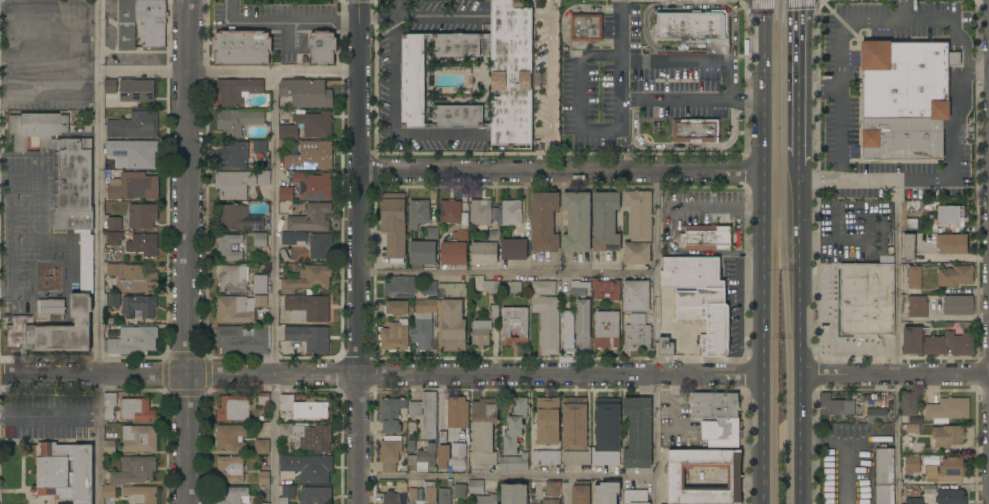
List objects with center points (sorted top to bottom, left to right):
road: (743, 1)
road: (778, 2)
road: (655, 8)
road: (903, 11)
road: (438, 16)
road: (288, 20)
building: (152, 21)
building: (126, 25)
building: (586, 27)
building: (689, 27)
road: (564, 28)
road: (623, 29)
road: (840, 32)
building: (457, 44)
building: (241, 48)
building: (321, 48)
road: (45, 63)
road: (677, 64)
road: (95, 65)
road: (549, 67)
road: (971, 70)
road: (230, 73)
building: (511, 74)
building: (906, 79)
building: (537, 80)
building: (412, 81)
road: (800, 81)
road: (732, 82)
building: (110, 86)
parking lot: (841, 89)
building: (136, 91)
building: (237, 91)
building: (306, 92)
road: (692, 101)
road: (393, 111)
building: (457, 117)
building: (237, 120)
building: (134, 125)
building: (305, 126)
building: (694, 130)
road: (579, 131)
building: (902, 139)
building: (259, 146)
road: (623, 151)
road: (953, 152)
building: (132, 153)
building: (234, 156)
building: (310, 156)
road: (562, 170)
road: (801, 173)
building: (239, 183)
building: (133, 187)
building: (307, 187)
road: (714, 206)
building: (450, 211)
building: (481, 212)
building: (511, 212)
building: (418, 213)
building: (141, 216)
building: (950, 216)
building: (238, 218)
building: (310, 218)
building: (543, 221)
building: (605, 221)
building: (576, 222)
building: (114, 223)
road: (275, 223)
building: (911, 224)
building: (60, 226)
building: (394, 227)
building: (638, 227)
building: (431, 233)
building: (882, 234)
building: (292, 237)
building: (706, 237)
building: (260, 239)
building: (134, 242)
building: (952, 243)
building: (320, 246)
building: (908, 247)
building: (228, 248)
building: (454, 249)
building: (514, 249)
building: (485, 250)
road: (99, 251)
road: (187, 251)
road: (358, 251)
railway: (776, 251)
railway: (786, 251)
road: (762, 252)
building: (421, 253)
building: (885, 260)
building: (691, 272)
road: (507, 273)
building: (955, 275)
building: (132, 277)
building: (914, 277)
building: (232, 278)
building: (307, 279)
building: (260, 284)
building: (564, 285)
building: (399, 287)
building: (491, 287)
building: (515, 287)
building: (429, 288)
building: (451, 290)
building: (606, 290)
road: (897, 293)
building: (635, 296)
building: (866, 299)
building: (113, 300)
building: (260, 301)
building: (958, 305)
building: (51, 306)
building: (138, 306)
building: (916, 306)
building: (307, 308)
building: (397, 308)
building: (232, 309)
building: (495, 312)
building: (546, 315)
building: (581, 317)
building: (707, 317)
building: (439, 324)
building: (514, 324)
building: (606, 329)
building: (568, 331)
building: (480, 333)
building: (637, 333)
building: (394, 336)
building: (308, 337)
road: (656, 337)
building: (133, 340)
building: (242, 340)
road: (801, 343)
building: (936, 343)
building: (665, 346)
road: (93, 374)
road: (473, 374)
road: (895, 374)
building: (263, 398)
building: (835, 404)
building: (908, 404)
building: (108, 405)
building: (714, 405)
building: (304, 407)
building: (233, 408)
building: (136, 409)
building: (948, 409)
building: (456, 412)
road: (49, 414)
building: (391, 414)
building: (426, 414)
building: (876, 415)
building: (547, 421)
building: (574, 423)
building: (607, 424)
building: (514, 426)
building: (412, 428)
building: (285, 429)
building: (483, 431)
building: (721, 431)
building: (936, 432)
building: (638, 433)
building: (230, 437)
building: (139, 438)
road: (273, 438)
building: (311, 438)
building: (262, 446)
building: (109, 447)
building: (389, 453)
road: (842, 454)
building: (458, 456)
building: (546, 457)
building: (576, 457)
building: (604, 457)
building: (422, 459)
building: (442, 463)
building: (514, 463)
building: (911, 464)
building: (308, 467)
building: (230, 469)
building: (64, 470)
building: (946, 471)
building: (130, 473)
building: (884, 474)
road: (507, 475)
building: (676, 477)
building: (263, 478)
building: (476, 487)
building: (551, 489)
building: (460, 491)
building: (429, 492)
building: (580, 492)
building: (286, 493)
building: (513, 493)
building: (605, 493)
building: (413, 494)
building: (420, 494)
building: (139, 495)
building: (234, 495)
building: (314, 495)
building: (443, 496)
building: (950, 496)
building: (390, 497)
building: (635, 497)
building: (487, 499)
building: (550, 501)
building: (914, 501)
building: (263, 503)

